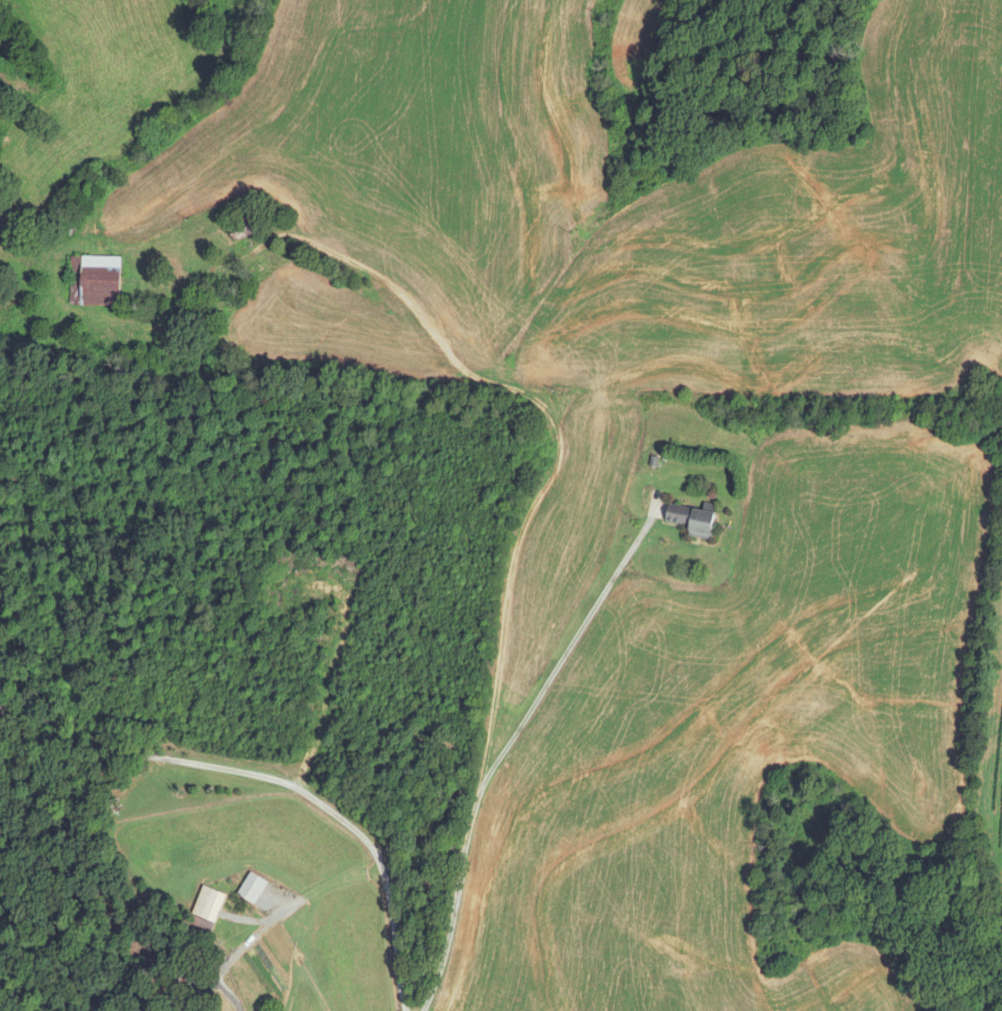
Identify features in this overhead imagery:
building: (241, 228)
building: (95, 281)
building: (693, 519)
road: (567, 652)
road: (488, 719)
road: (271, 778)
building: (252, 888)
building: (207, 908)
road: (238, 953)
building: (180, 979)

